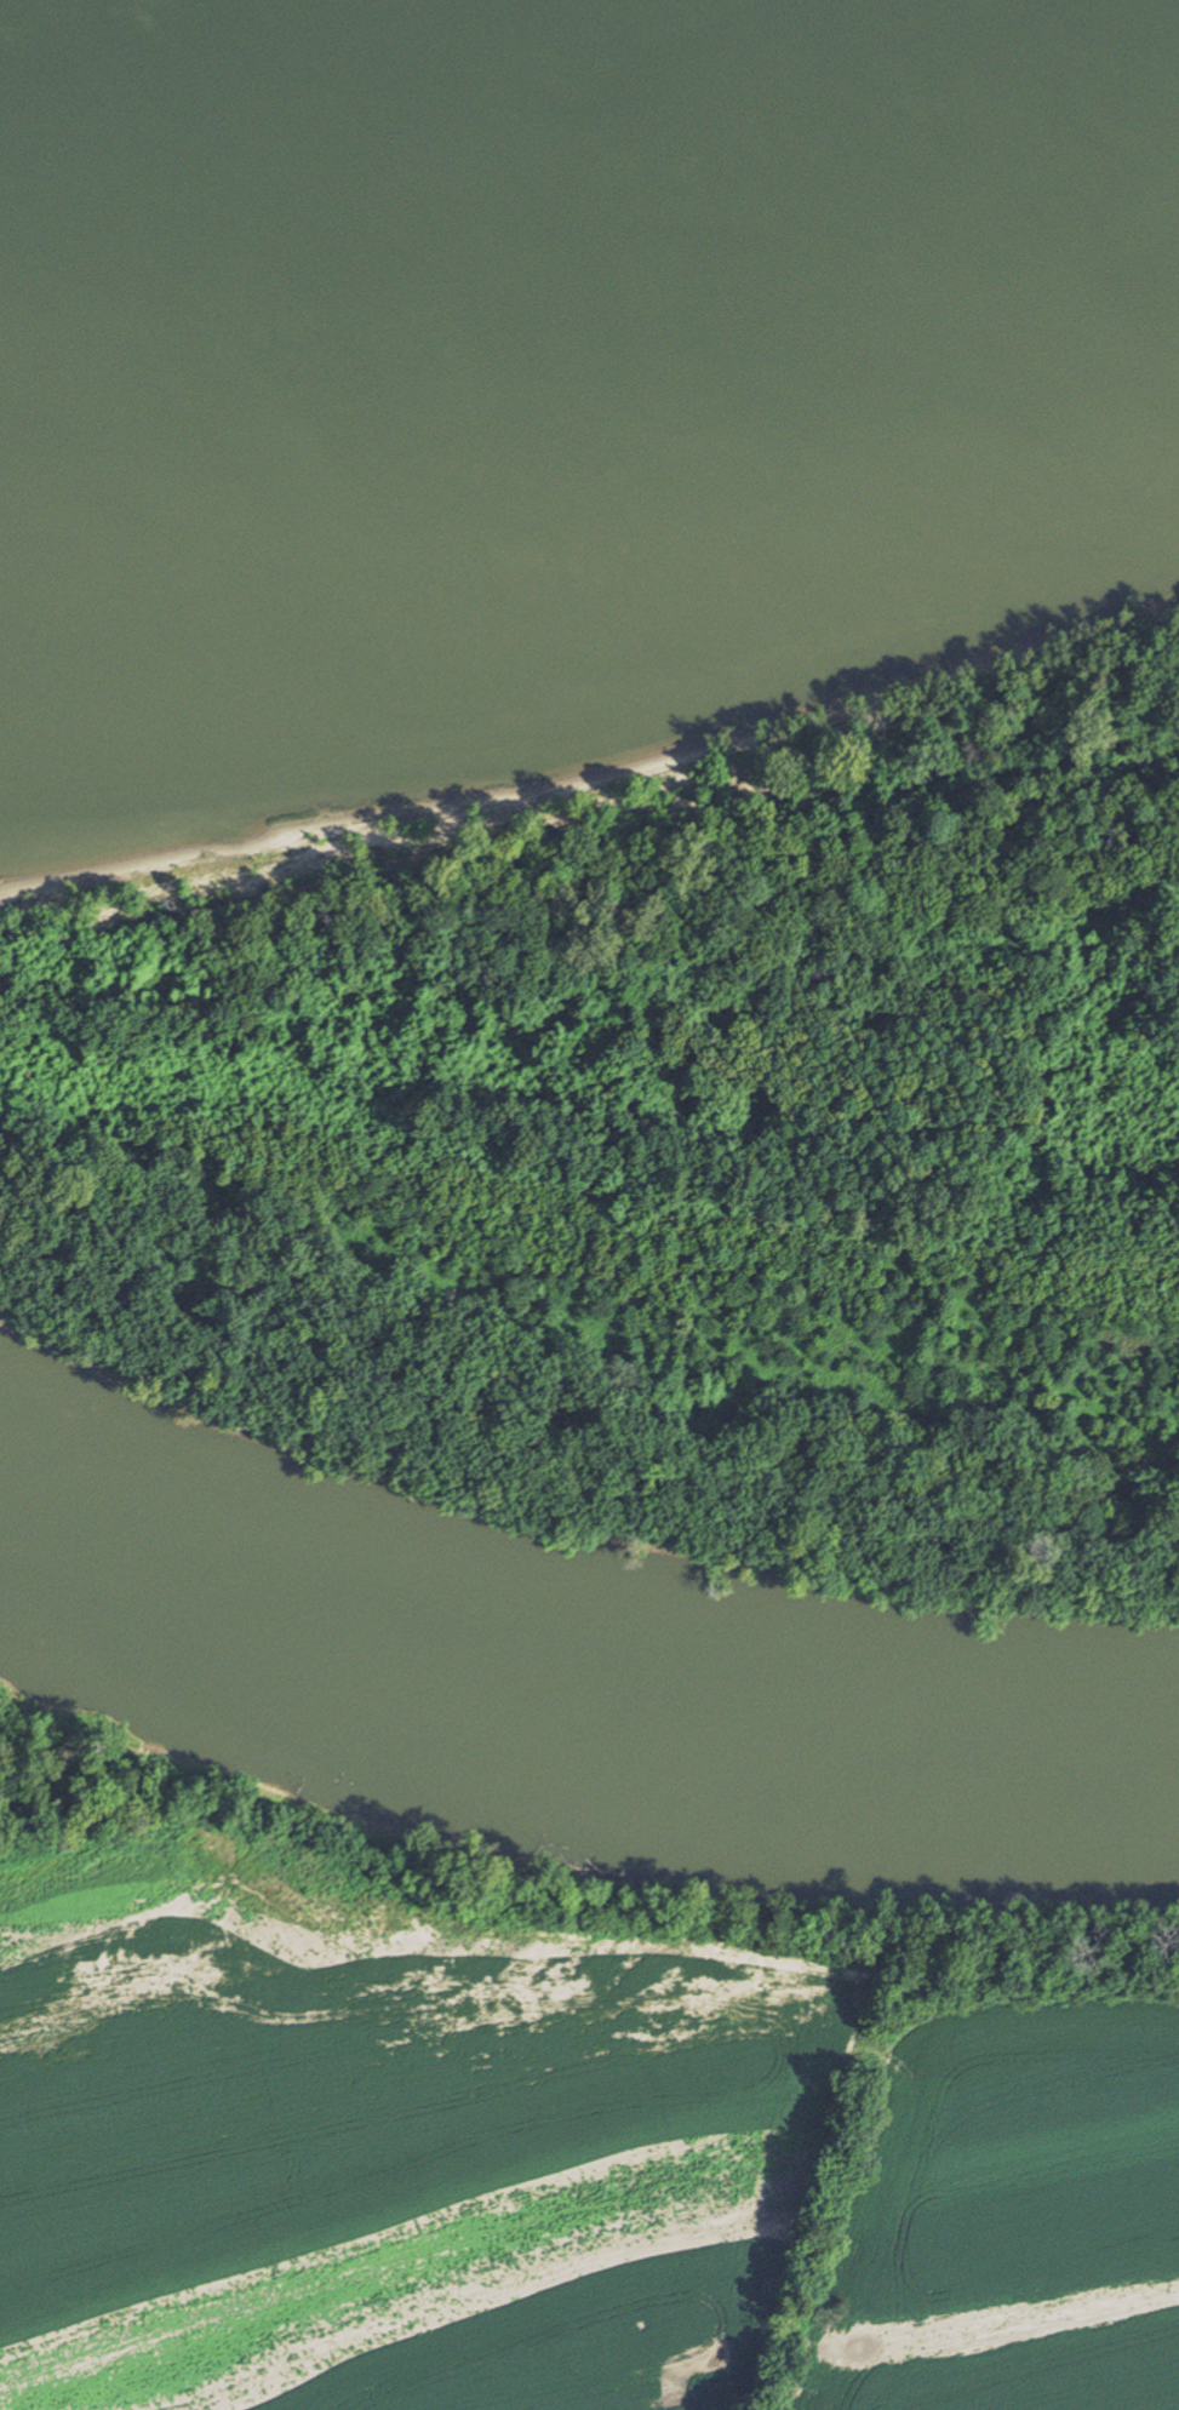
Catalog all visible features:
river: (429, 111)

